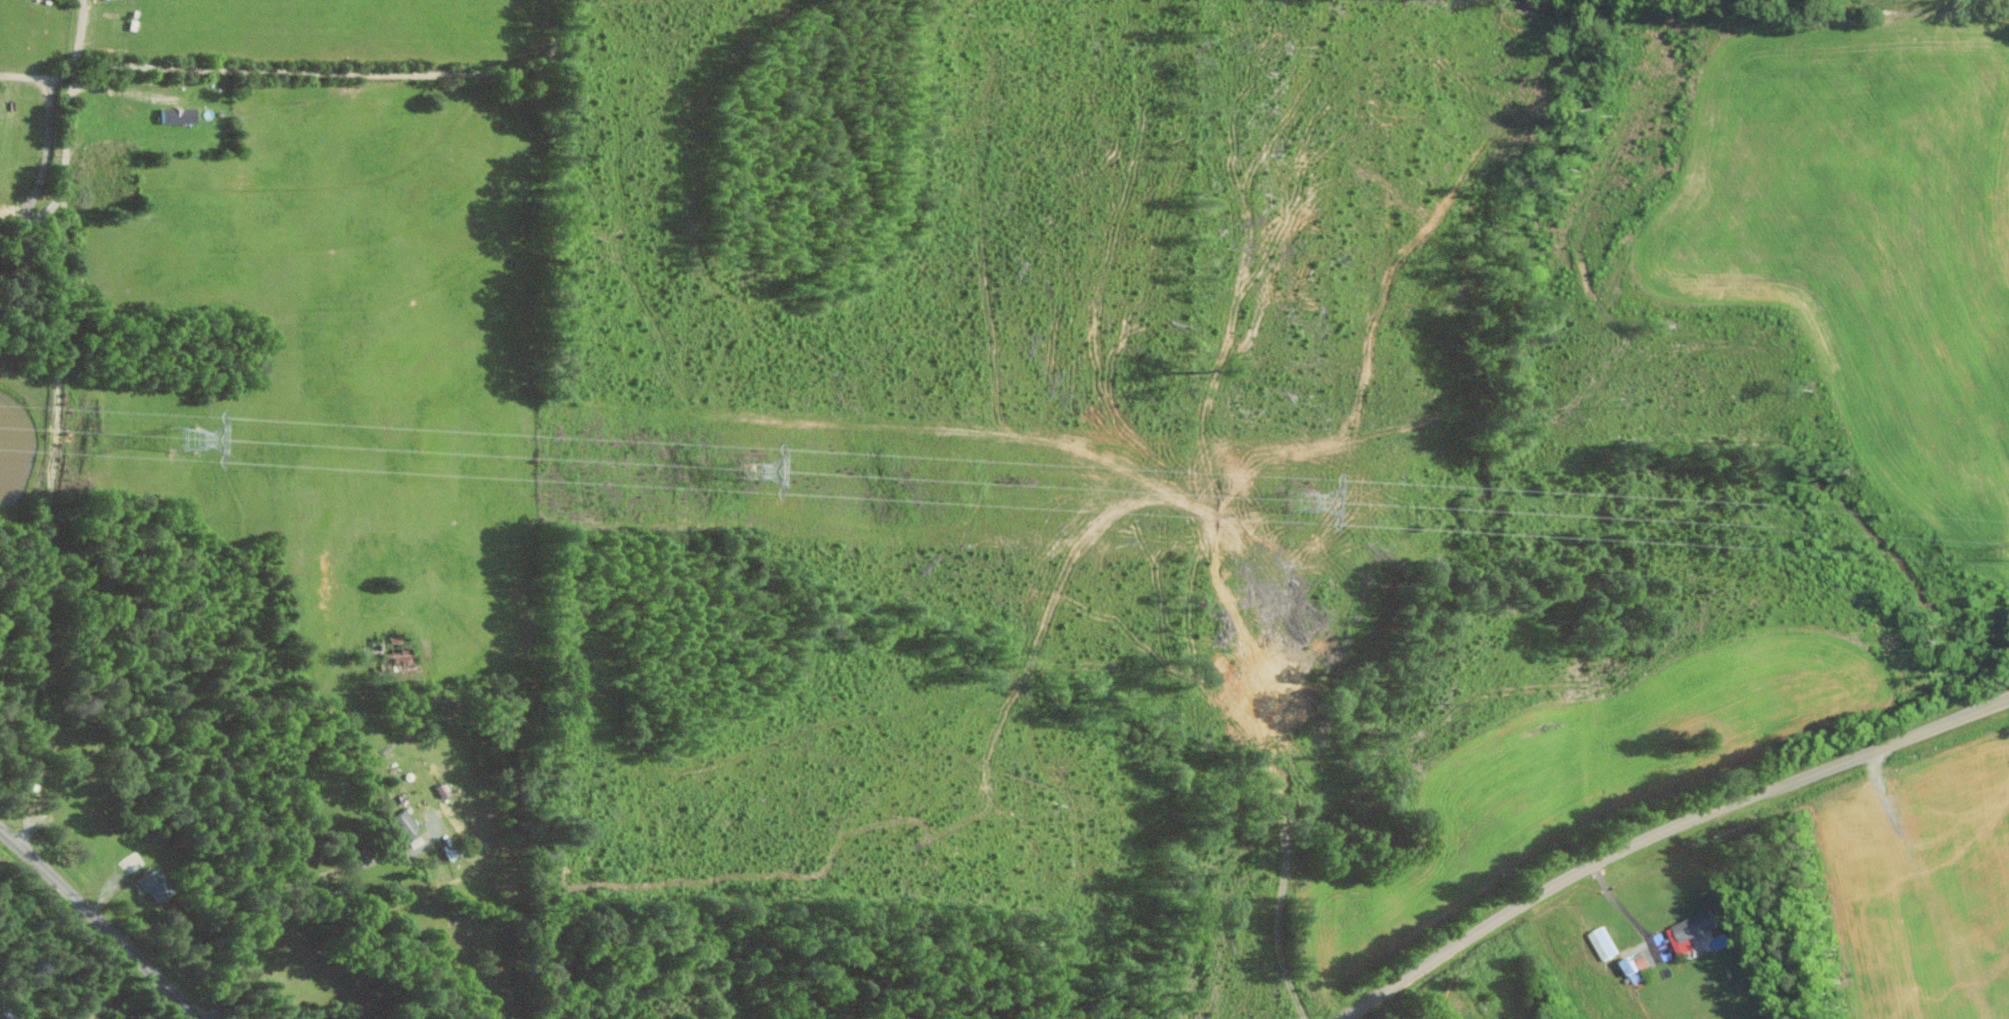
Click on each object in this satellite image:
road: (81, 27)
road: (230, 61)
road: (28, 77)
building: (182, 114)
power tower: (191, 442)
road: (57, 443)
power tower: (749, 473)
power tower: (1301, 503)
road: (32, 780)
building: (409, 823)
road: (1665, 834)
building: (454, 853)
building: (159, 883)
road: (284, 899)
road: (1622, 908)
road: (94, 927)
building: (1692, 931)
building: (1604, 943)
building: (1639, 967)

